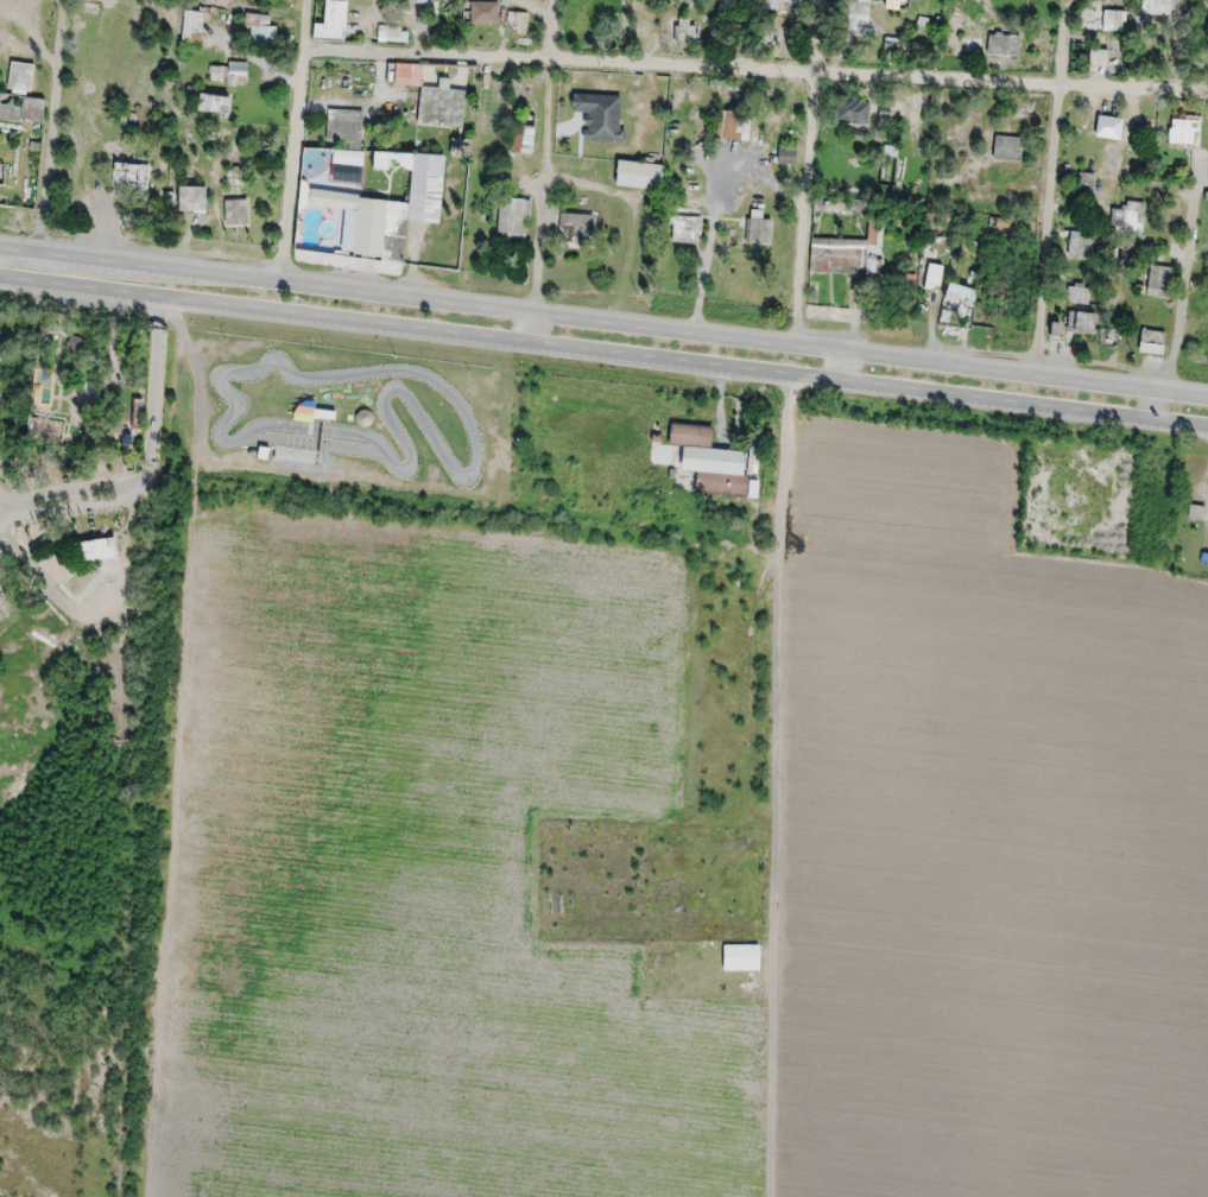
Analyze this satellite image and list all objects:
building: (600, 112)
building: (731, 123)
building: (1007, 148)
building: (1132, 215)
building: (1077, 294)
building: (1084, 321)
building: (1150, 343)

